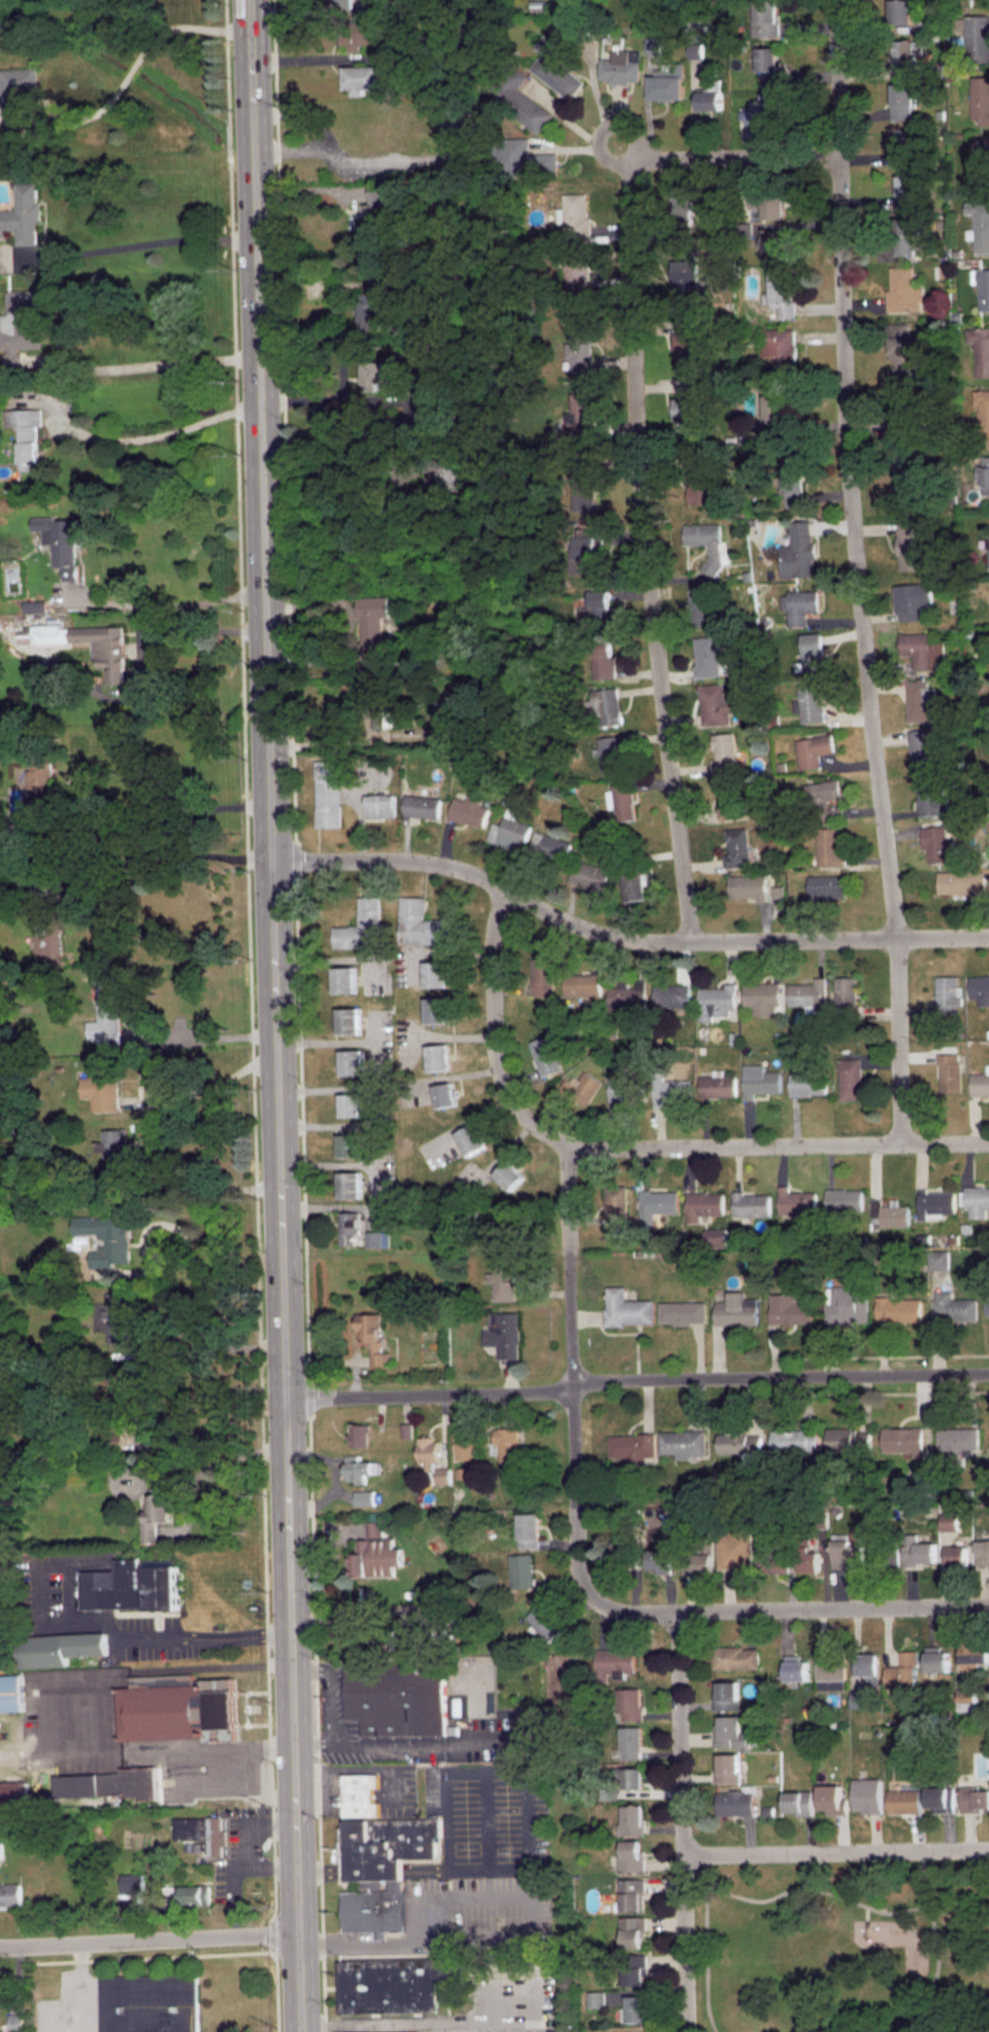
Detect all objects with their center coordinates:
road: (697, 4)
building: (539, 6)
building: (900, 12)
building: (699, 18)
building: (767, 18)
building: (571, 24)
road: (184, 25)
building: (361, 33)
building: (977, 36)
building: (654, 43)
building: (696, 49)
building: (904, 53)
building: (770, 64)
building: (620, 66)
building: (555, 67)
road: (130, 69)
building: (362, 78)
building: (668, 82)
building: (16, 90)
building: (517, 97)
building: (980, 98)
building: (711, 99)
building: (905, 99)
building: (765, 109)
road: (80, 119)
building: (906, 147)
road: (629, 149)
road: (729, 157)
building: (521, 158)
building: (981, 162)
building: (908, 191)
building: (768, 202)
building: (374, 210)
building: (681, 211)
building: (23, 213)
building: (576, 217)
building: (980, 224)
building: (906, 234)
building: (776, 244)
road: (126, 245)
building: (576, 275)
road: (308, 279)
building: (688, 280)
building: (984, 287)
building: (904, 289)
building: (781, 293)
building: (372, 311)
building: (20, 328)
building: (690, 344)
building: (580, 345)
building: (781, 348)
building: (981, 348)
building: (902, 351)
road: (141, 365)
building: (375, 375)
road: (331, 399)
building: (430, 405)
building: (774, 409)
building: (983, 411)
building: (907, 412)
building: (581, 413)
building: (689, 417)
building: (25, 431)
road: (131, 439)
building: (985, 475)
building: (449, 476)
building: (699, 476)
building: (793, 478)
building: (908, 480)
building: (583, 485)
road: (350, 498)
building: (59, 539)
building: (988, 539)
building: (709, 541)
building: (911, 544)
building: (586, 547)
building: (799, 549)
road: (647, 552)
road: (856, 572)
building: (912, 596)
building: (35, 602)
building: (799, 603)
building: (700, 604)
road: (157, 605)
building: (594, 609)
building: (373, 625)
building: (109, 648)
building: (811, 649)
building: (923, 649)
building: (706, 654)
building: (602, 659)
road: (139, 660)
building: (920, 698)
building: (809, 700)
building: (715, 702)
building: (605, 704)
building: (444, 713)
road: (357, 743)
building: (812, 748)
building: (920, 748)
building: (723, 749)
building: (610, 750)
building: (40, 777)
building: (326, 790)
building: (730, 795)
building: (930, 795)
building: (822, 797)
building: (620, 801)
building: (419, 803)
building: (379, 805)
building: (468, 808)
road: (44, 817)
road: (141, 820)
building: (7, 826)
building: (508, 830)
building: (935, 844)
building: (549, 845)
building: (737, 845)
building: (829, 845)
road: (159, 847)
building: (589, 875)
building: (961, 880)
building: (825, 884)
building: (632, 885)
building: (747, 886)
building: (777, 893)
building: (47, 918)
building: (361, 923)
building: (419, 924)
road: (621, 936)
building: (435, 971)
building: (344, 976)
building: (541, 976)
building: (581, 982)
building: (979, 983)
building: (761, 991)
building: (806, 991)
building: (671, 993)
building: (947, 994)
building: (625, 995)
building: (716, 995)
building: (846, 997)
building: (435, 1007)
building: (107, 1010)
road: (274, 1016)
building: (348, 1017)
road: (198, 1034)
building: (438, 1054)
building: (544, 1055)
building: (351, 1059)
building: (949, 1072)
building: (850, 1075)
building: (759, 1078)
building: (807, 1081)
building: (979, 1081)
building: (101, 1082)
building: (717, 1083)
building: (580, 1087)
building: (619, 1089)
road: (200, 1090)
building: (670, 1091)
building: (444, 1094)
building: (349, 1105)
building: (470, 1139)
building: (347, 1145)
road: (630, 1147)
building: (115, 1149)
building: (509, 1175)
road: (196, 1183)
building: (349, 1184)
building: (843, 1199)
building: (795, 1201)
building: (976, 1201)
building: (935, 1202)
building: (656, 1204)
building: (750, 1204)
building: (615, 1205)
building: (702, 1205)
building: (890, 1214)
road: (157, 1227)
building: (348, 1227)
building: (715, 1236)
building: (106, 1238)
building: (376, 1239)
road: (194, 1252)
building: (941, 1259)
building: (503, 1279)
building: (955, 1304)
building: (626, 1305)
building: (847, 1305)
building: (987, 1306)
building: (736, 1307)
building: (789, 1307)
building: (899, 1307)
building: (683, 1309)
building: (119, 1313)
building: (503, 1334)
building: (373, 1338)
road: (179, 1354)
road: (569, 1376)
road: (636, 1379)
building: (138, 1397)
road: (204, 1430)
building: (406, 1430)
building: (359, 1435)
building: (113, 1439)
building: (683, 1440)
building: (794, 1440)
building: (849, 1440)
building: (904, 1440)
building: (958, 1440)
building: (739, 1443)
building: (633, 1445)
building: (506, 1448)
building: (463, 1450)
building: (428, 1451)
building: (359, 1468)
building: (442, 1475)
building: (364, 1498)
building: (156, 1513)
building: (948, 1521)
building: (373, 1528)
building: (527, 1530)
building: (734, 1550)
building: (622, 1552)
building: (982, 1552)
building: (918, 1554)
building: (956, 1556)
building: (374, 1557)
building: (658, 1560)
building: (772, 1560)
building: (809, 1561)
building: (697, 1563)
building: (520, 1570)
building: (131, 1582)
road: (790, 1612)
road: (94, 1621)
building: (543, 1623)
building: (61, 1645)
building: (974, 1652)
building: (735, 1657)
building: (936, 1659)
building: (613, 1663)
building: (795, 1668)
building: (869, 1668)
building: (831, 1669)
building: (903, 1670)
building: (11, 1691)
building: (396, 1694)
building: (726, 1696)
building: (857, 1698)
building: (966, 1699)
building: (630, 1704)
building: (176, 1705)
road: (328, 1705)
building: (729, 1732)
building: (630, 1742)
building: (727, 1768)
building: (632, 1778)
building: (110, 1780)
building: (13, 1789)
building: (360, 1791)
road: (527, 1791)
building: (867, 1795)
building: (974, 1798)
building: (832, 1799)
building: (941, 1799)
building: (904, 1801)
building: (799, 1802)
building: (734, 1803)
building: (632, 1821)
road: (681, 1823)
building: (202, 1832)
building: (0, 1851)
road: (835, 1852)
building: (630, 1856)
road: (321, 1866)
road: (375, 1866)
building: (383, 1866)
building: (130, 1881)
road: (798, 1887)
building: (9, 1891)
building: (196, 1892)
building: (631, 1894)
building: (631, 1931)
road: (512, 1935)
road: (148, 1939)
park: (840, 1946)
road: (934, 1946)
road: (704, 1953)
building: (635, 1970)
building: (395, 1980)
road: (77, 1989)
building: (6, 1990)
building: (594, 1999)
building: (149, 2002)
building: (635, 2008)
building: (15, 2022)
building: (377, 2031)

